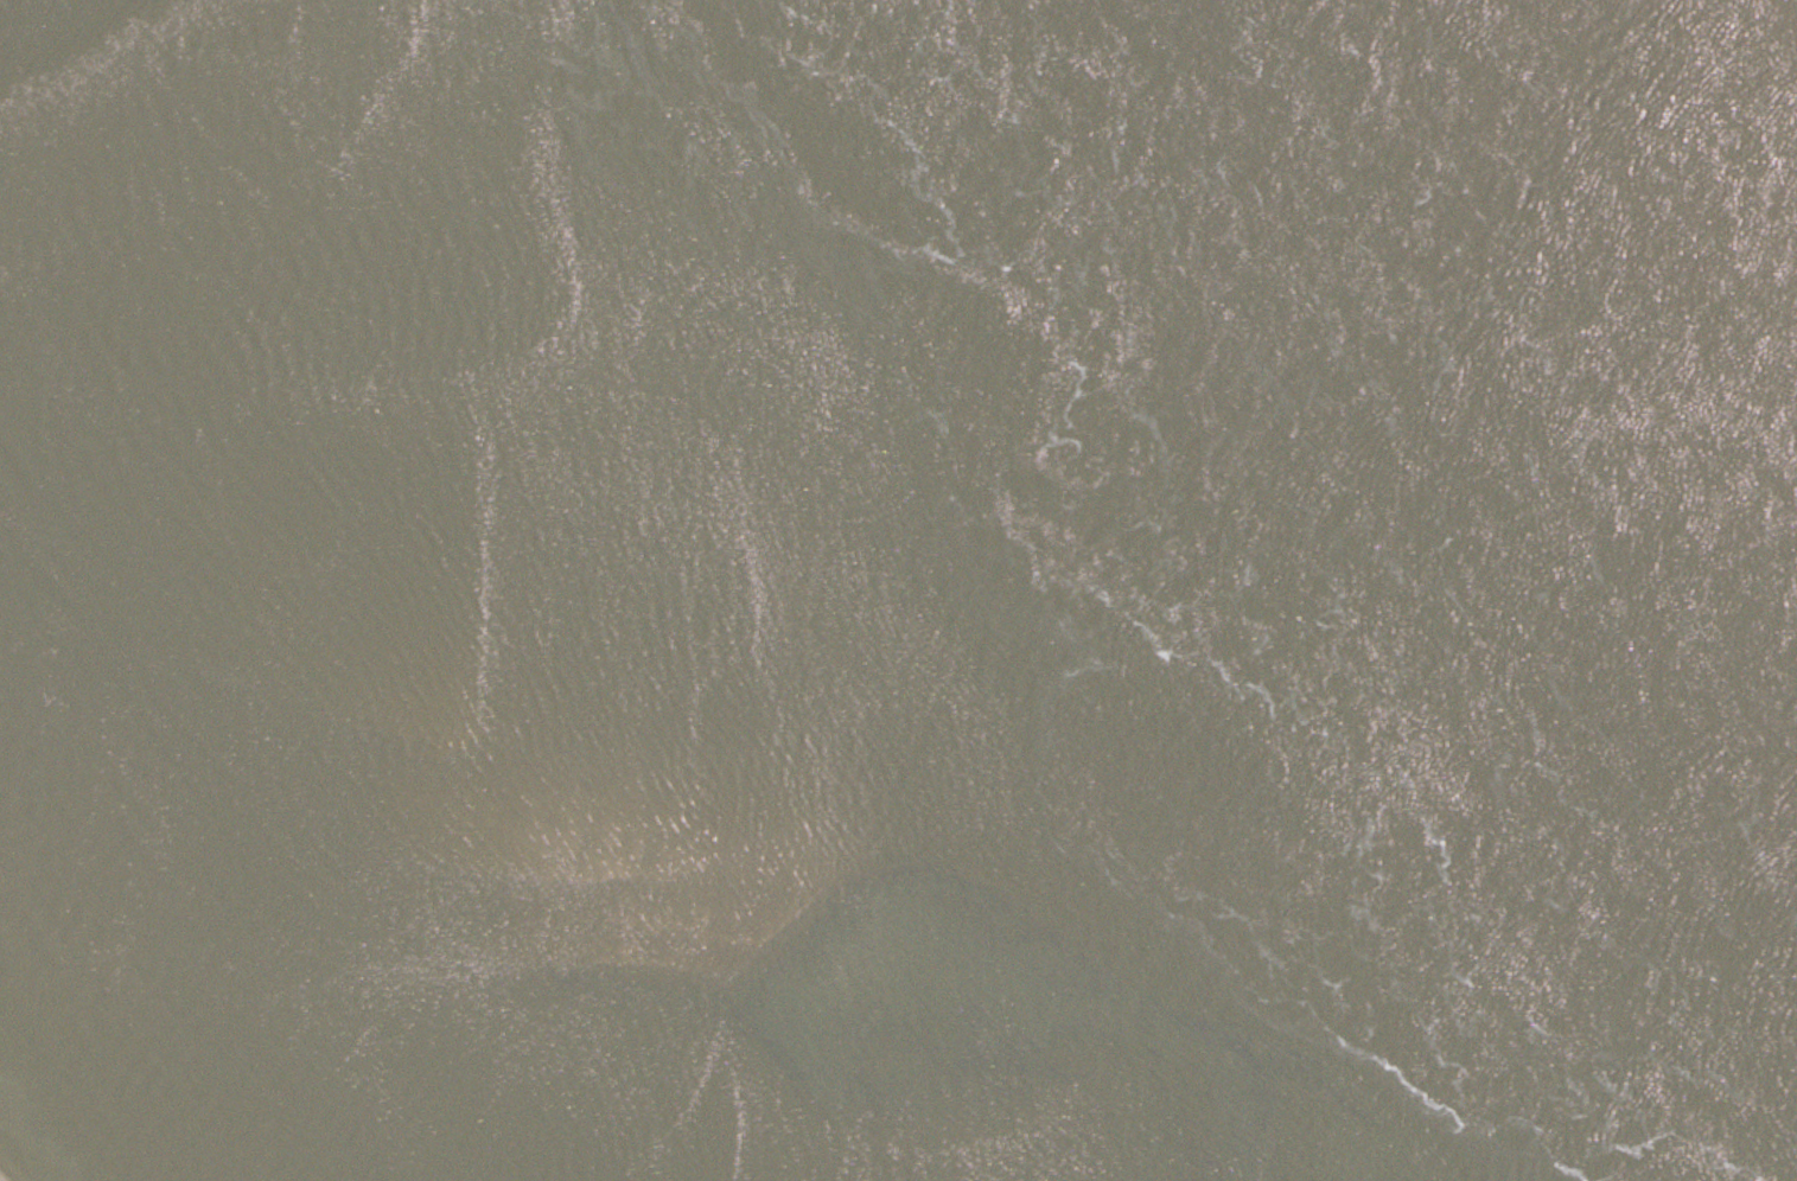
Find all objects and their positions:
river: (1295, 538)

